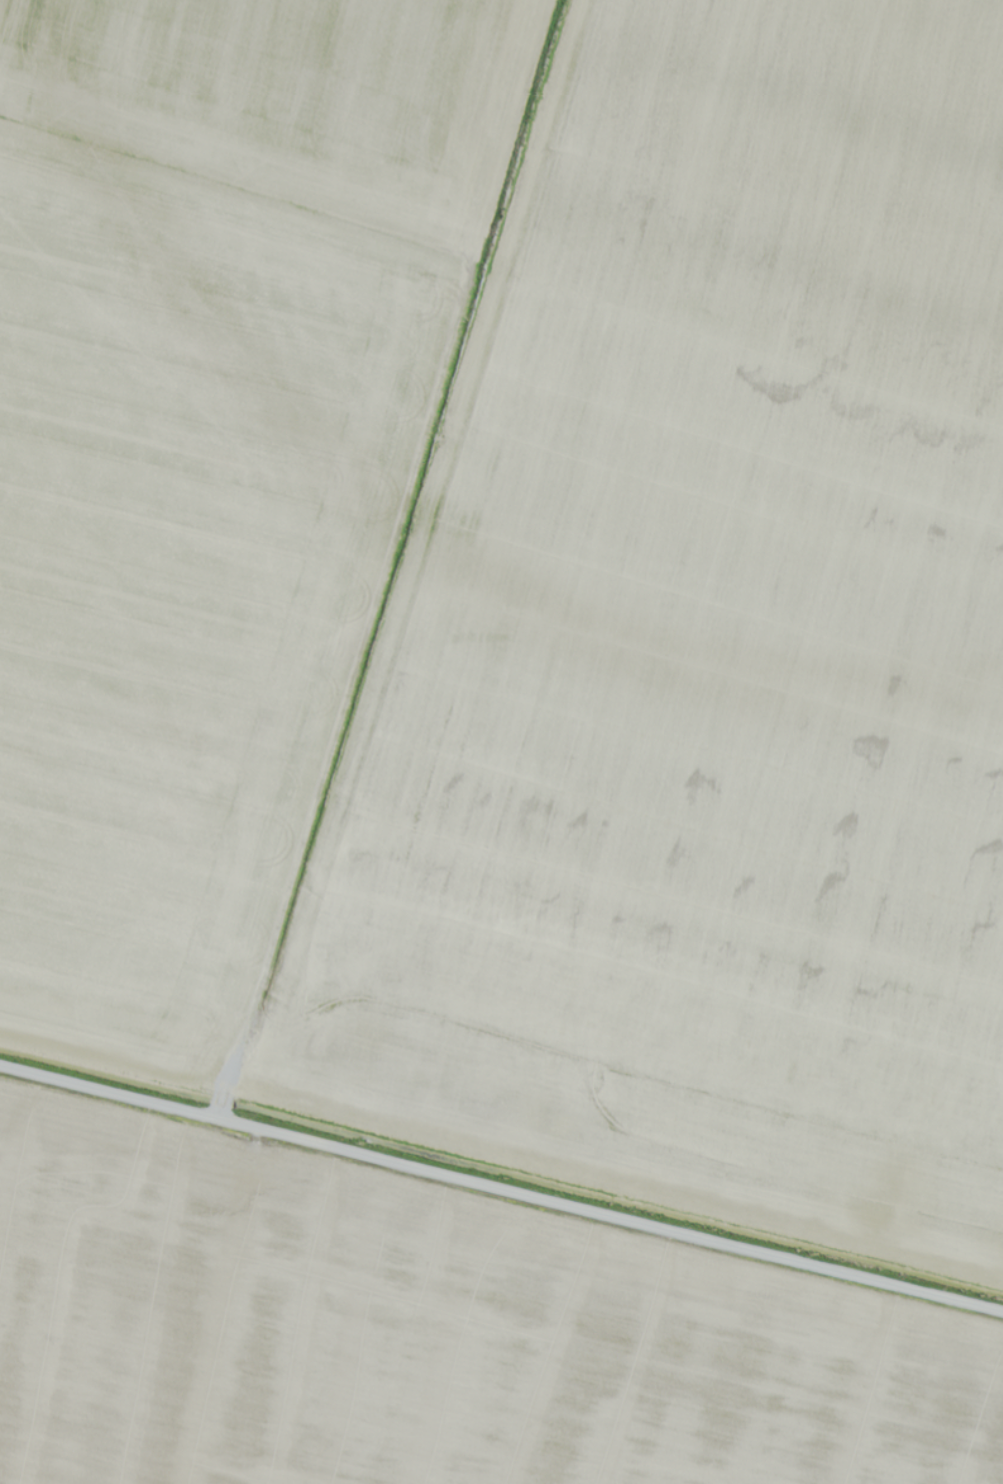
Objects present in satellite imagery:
road: (501, 1189)
road: (229, 1306)

